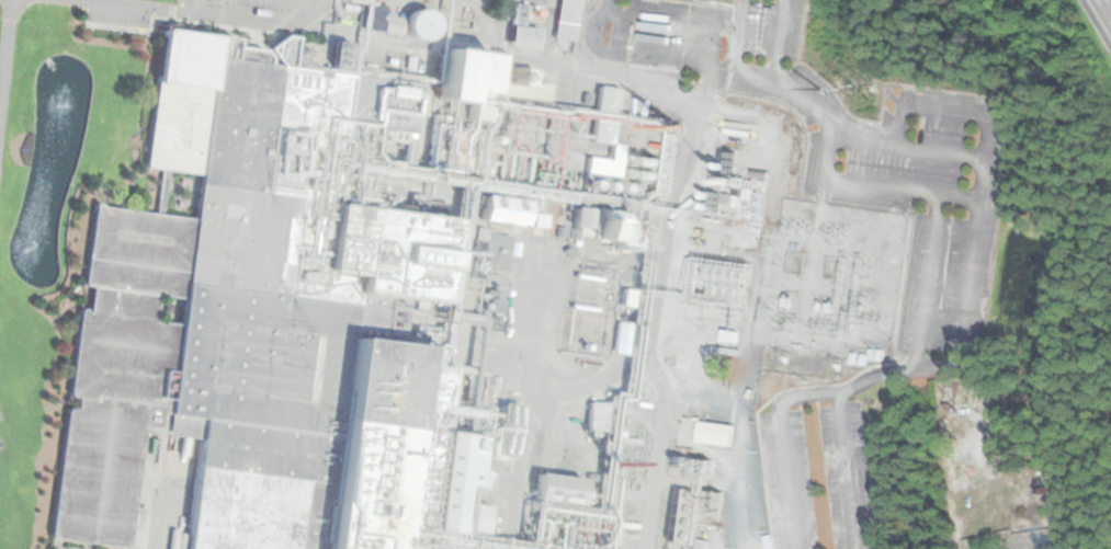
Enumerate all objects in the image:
road: (1107, 7)
road: (219, 11)
building: (568, 21)
building: (384, 24)
building: (423, 26)
building: (523, 32)
road: (5, 45)
power tower: (818, 87)
power tower: (858, 87)
building: (609, 100)
building: (604, 134)
road: (678, 176)
building: (506, 211)
building: (585, 219)
building: (615, 228)
building: (499, 254)
road: (971, 267)
power substation: (828, 277)
building: (286, 309)
road: (530, 390)
road: (664, 391)
building: (599, 418)
building: (715, 435)
building: (997, 455)

